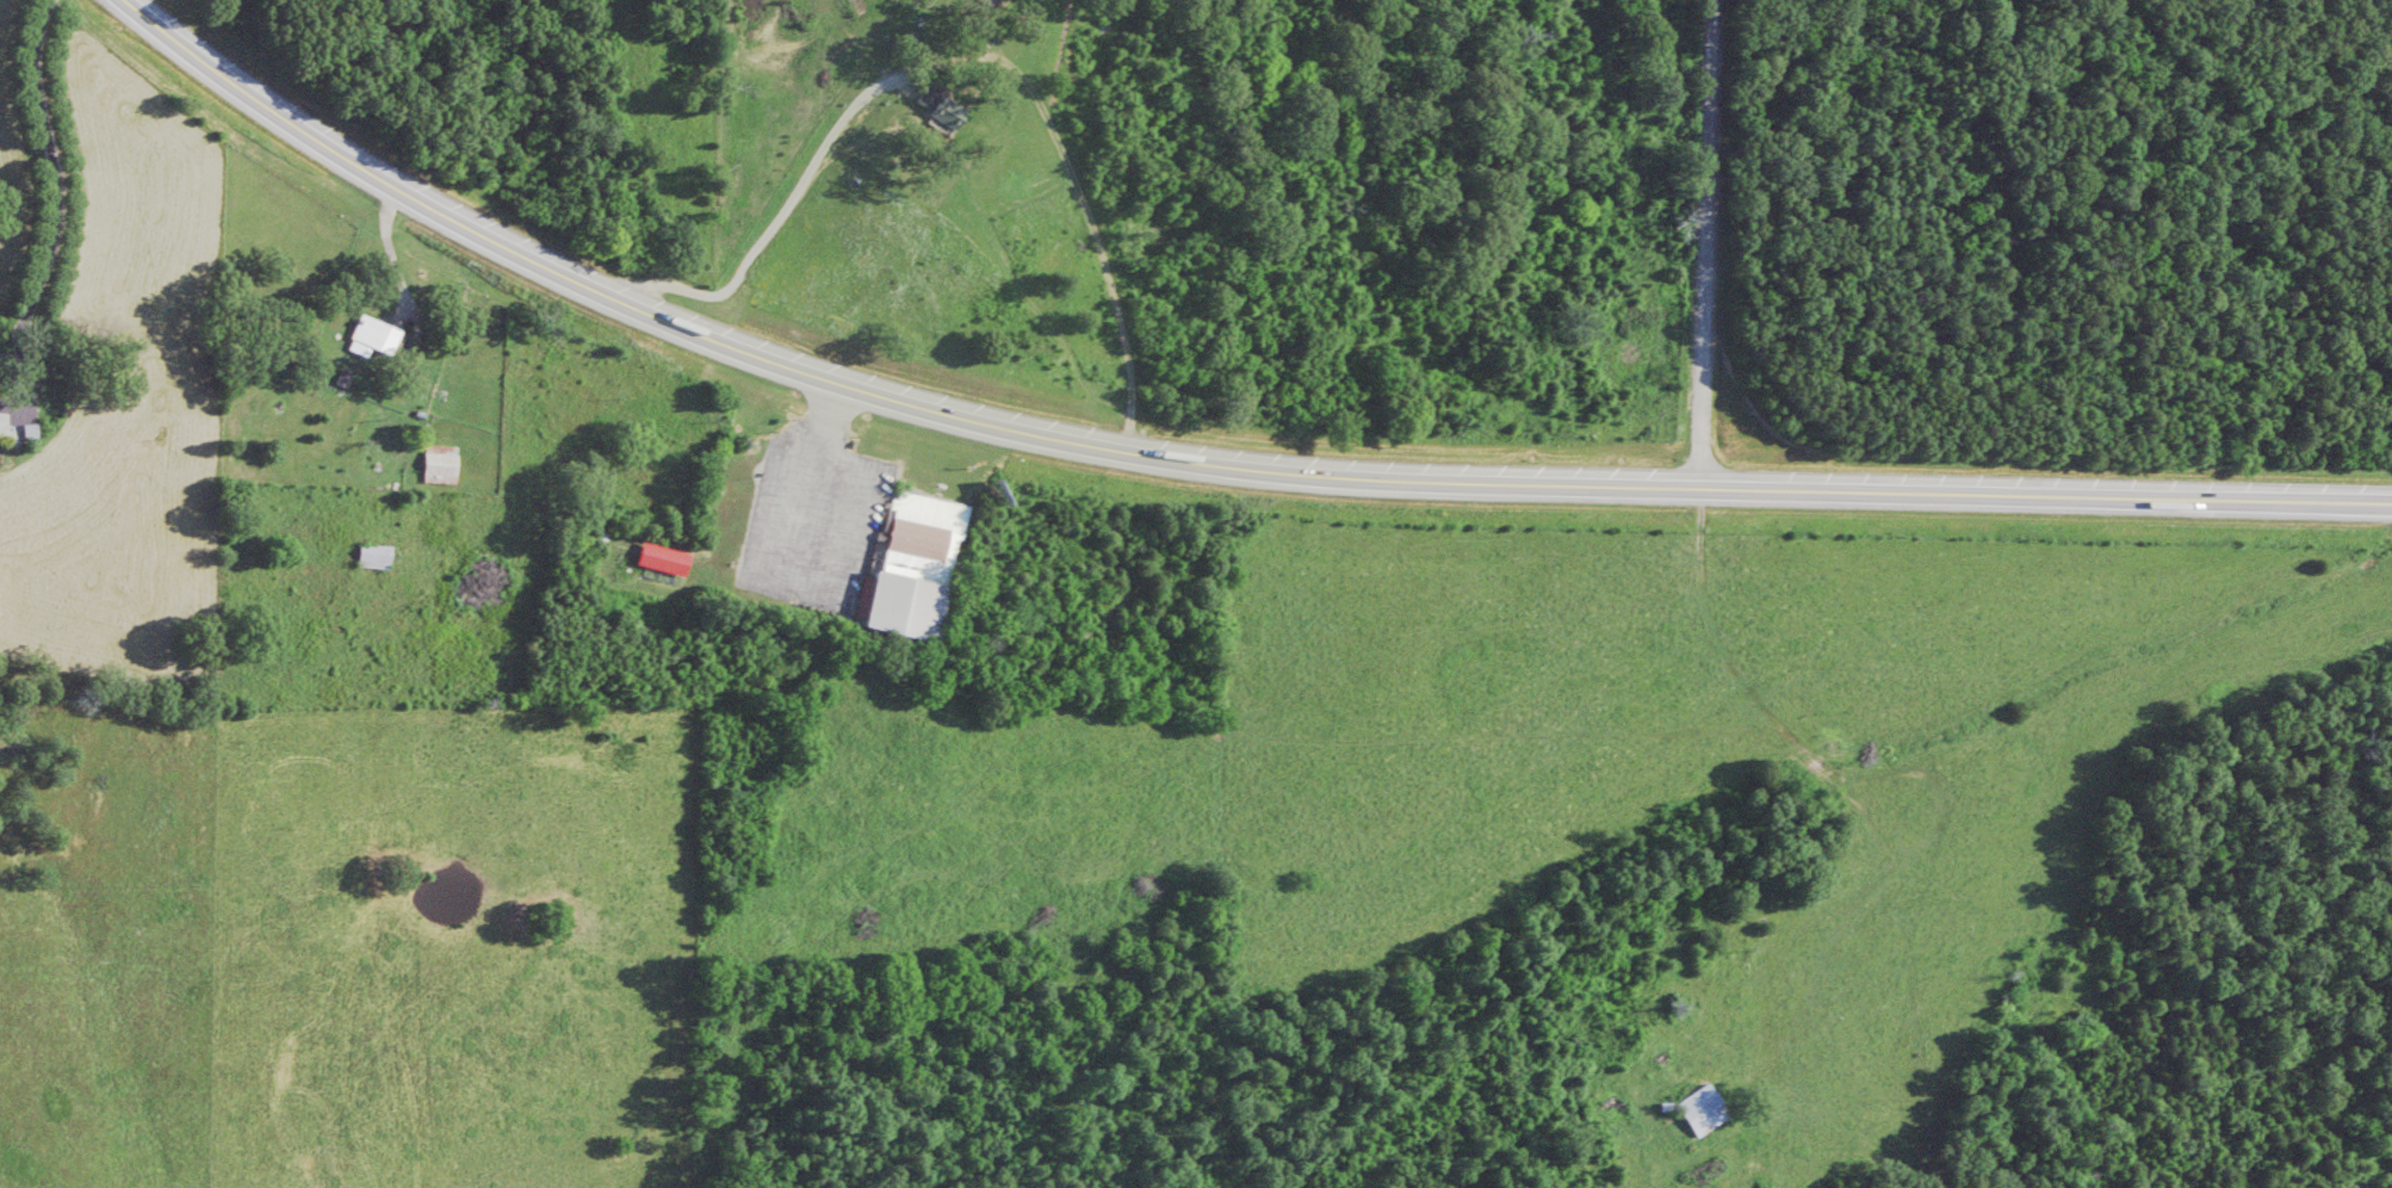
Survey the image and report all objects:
building: (950, 117)
road: (1703, 241)
building: (374, 341)
road: (1208, 458)
building: (440, 469)
building: (376, 562)
building: (943, 573)
road: (1121, 575)
building: (1704, 1114)

